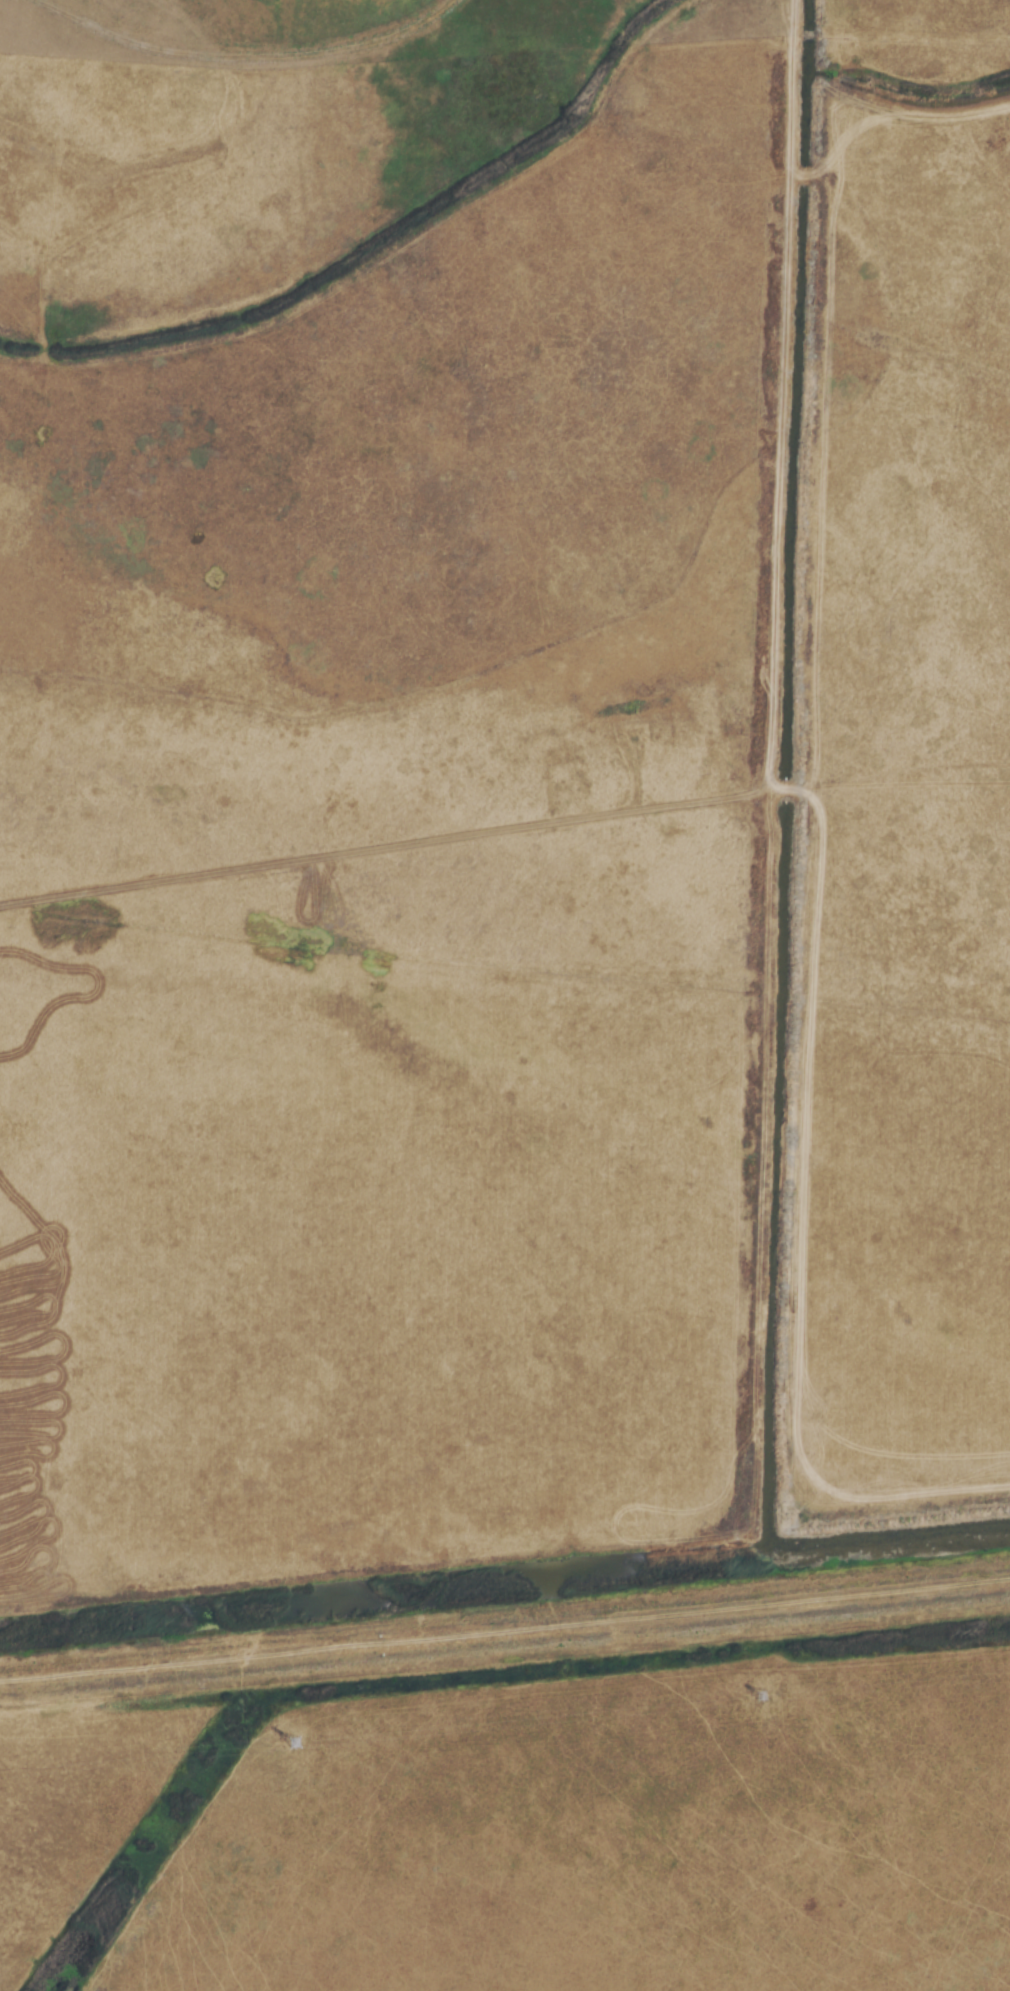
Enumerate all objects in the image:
power tower: (761, 1693)
power tower: (276, 1743)

